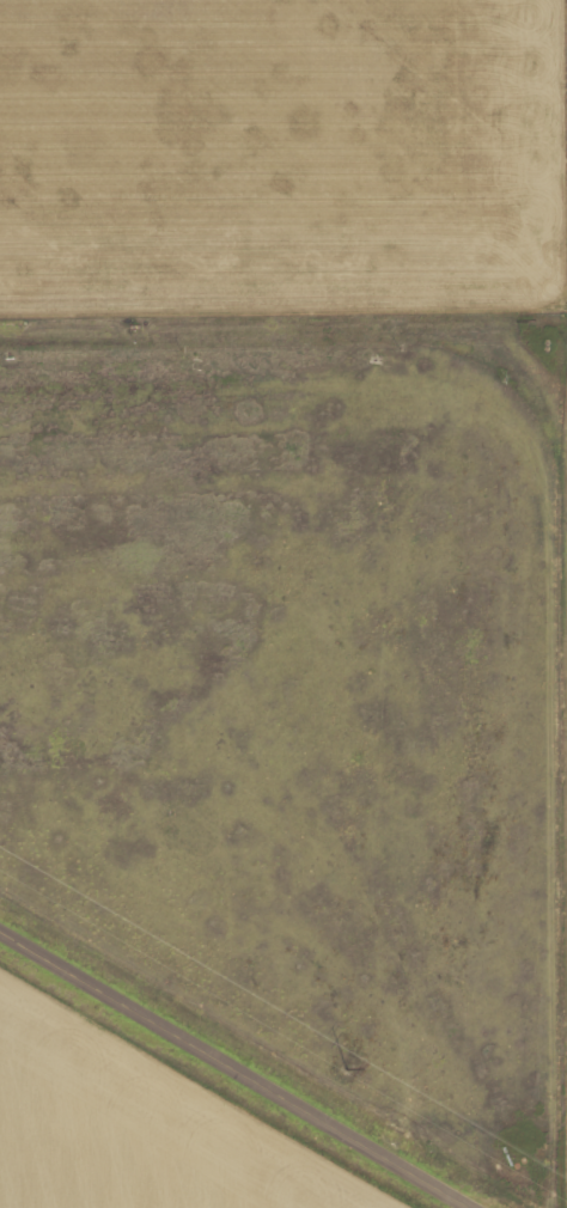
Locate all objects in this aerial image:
road: (283, 327)
road: (240, 1067)
power tower: (343, 1069)
building: (523, 1136)

